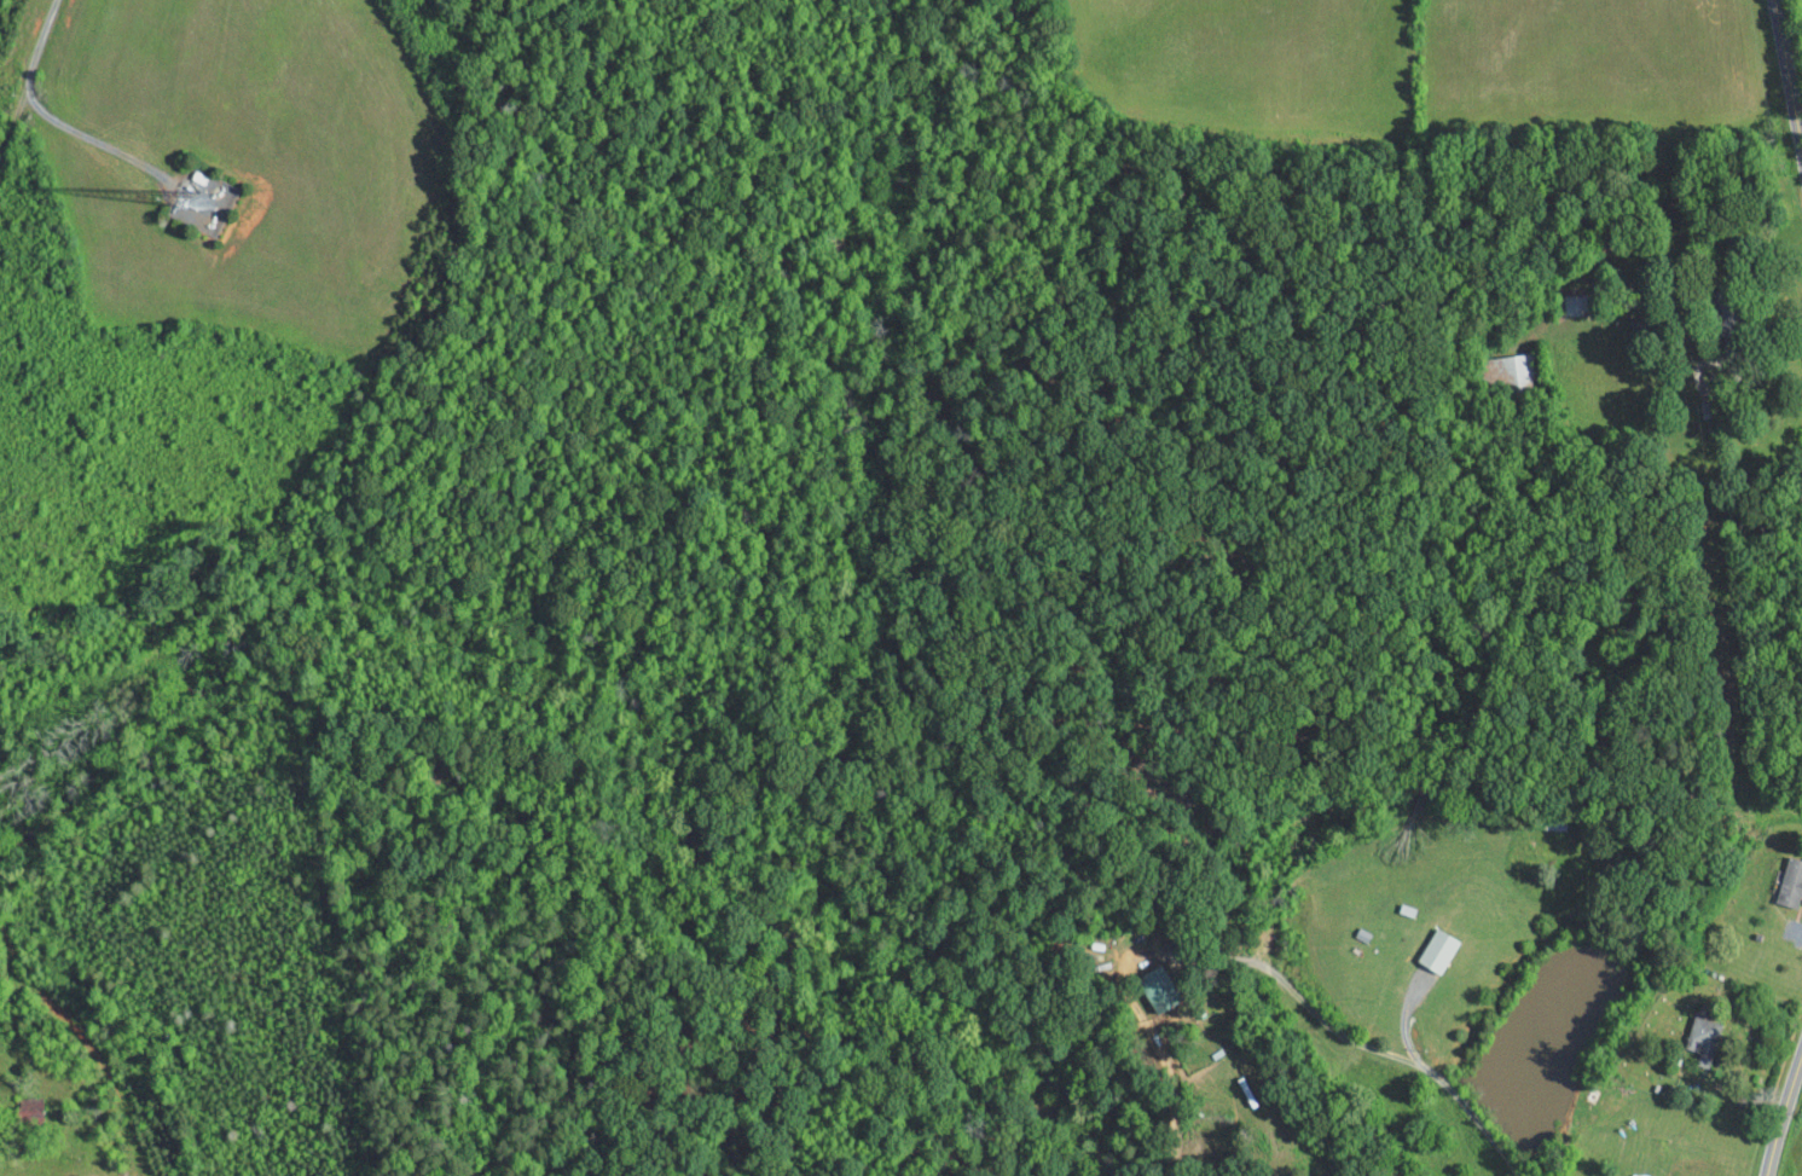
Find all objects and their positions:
road: (1787, 79)
building: (1508, 370)
building: (1790, 881)
building: (1436, 950)
building: (1700, 1037)
road: (1383, 1052)
road: (1781, 1112)

